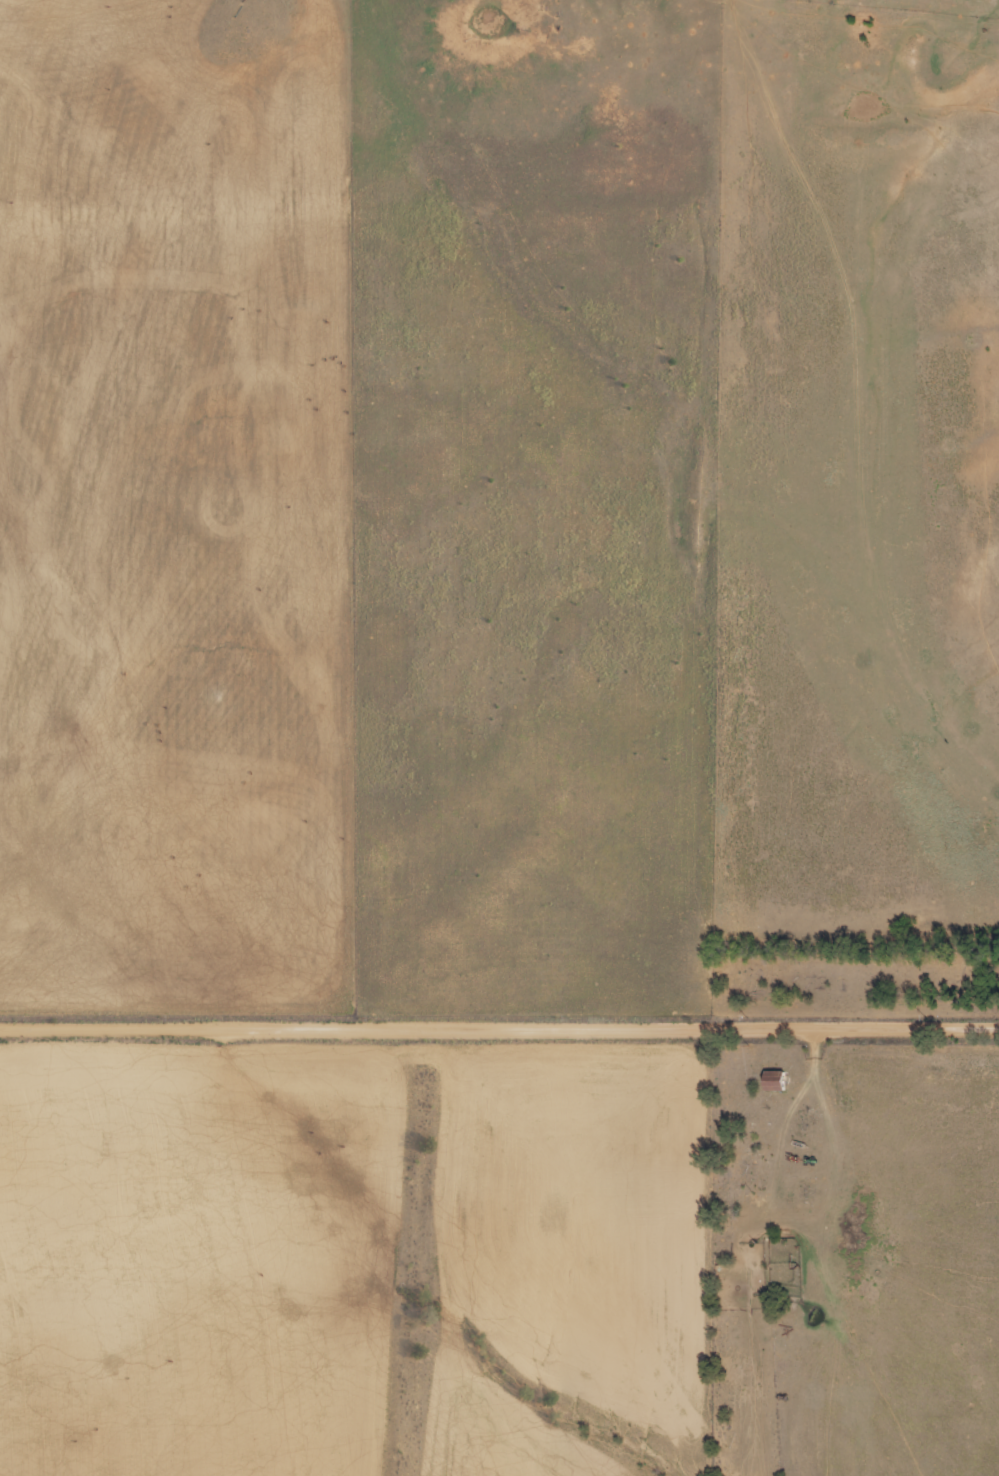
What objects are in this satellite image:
road: (499, 1028)
building: (767, 1081)

